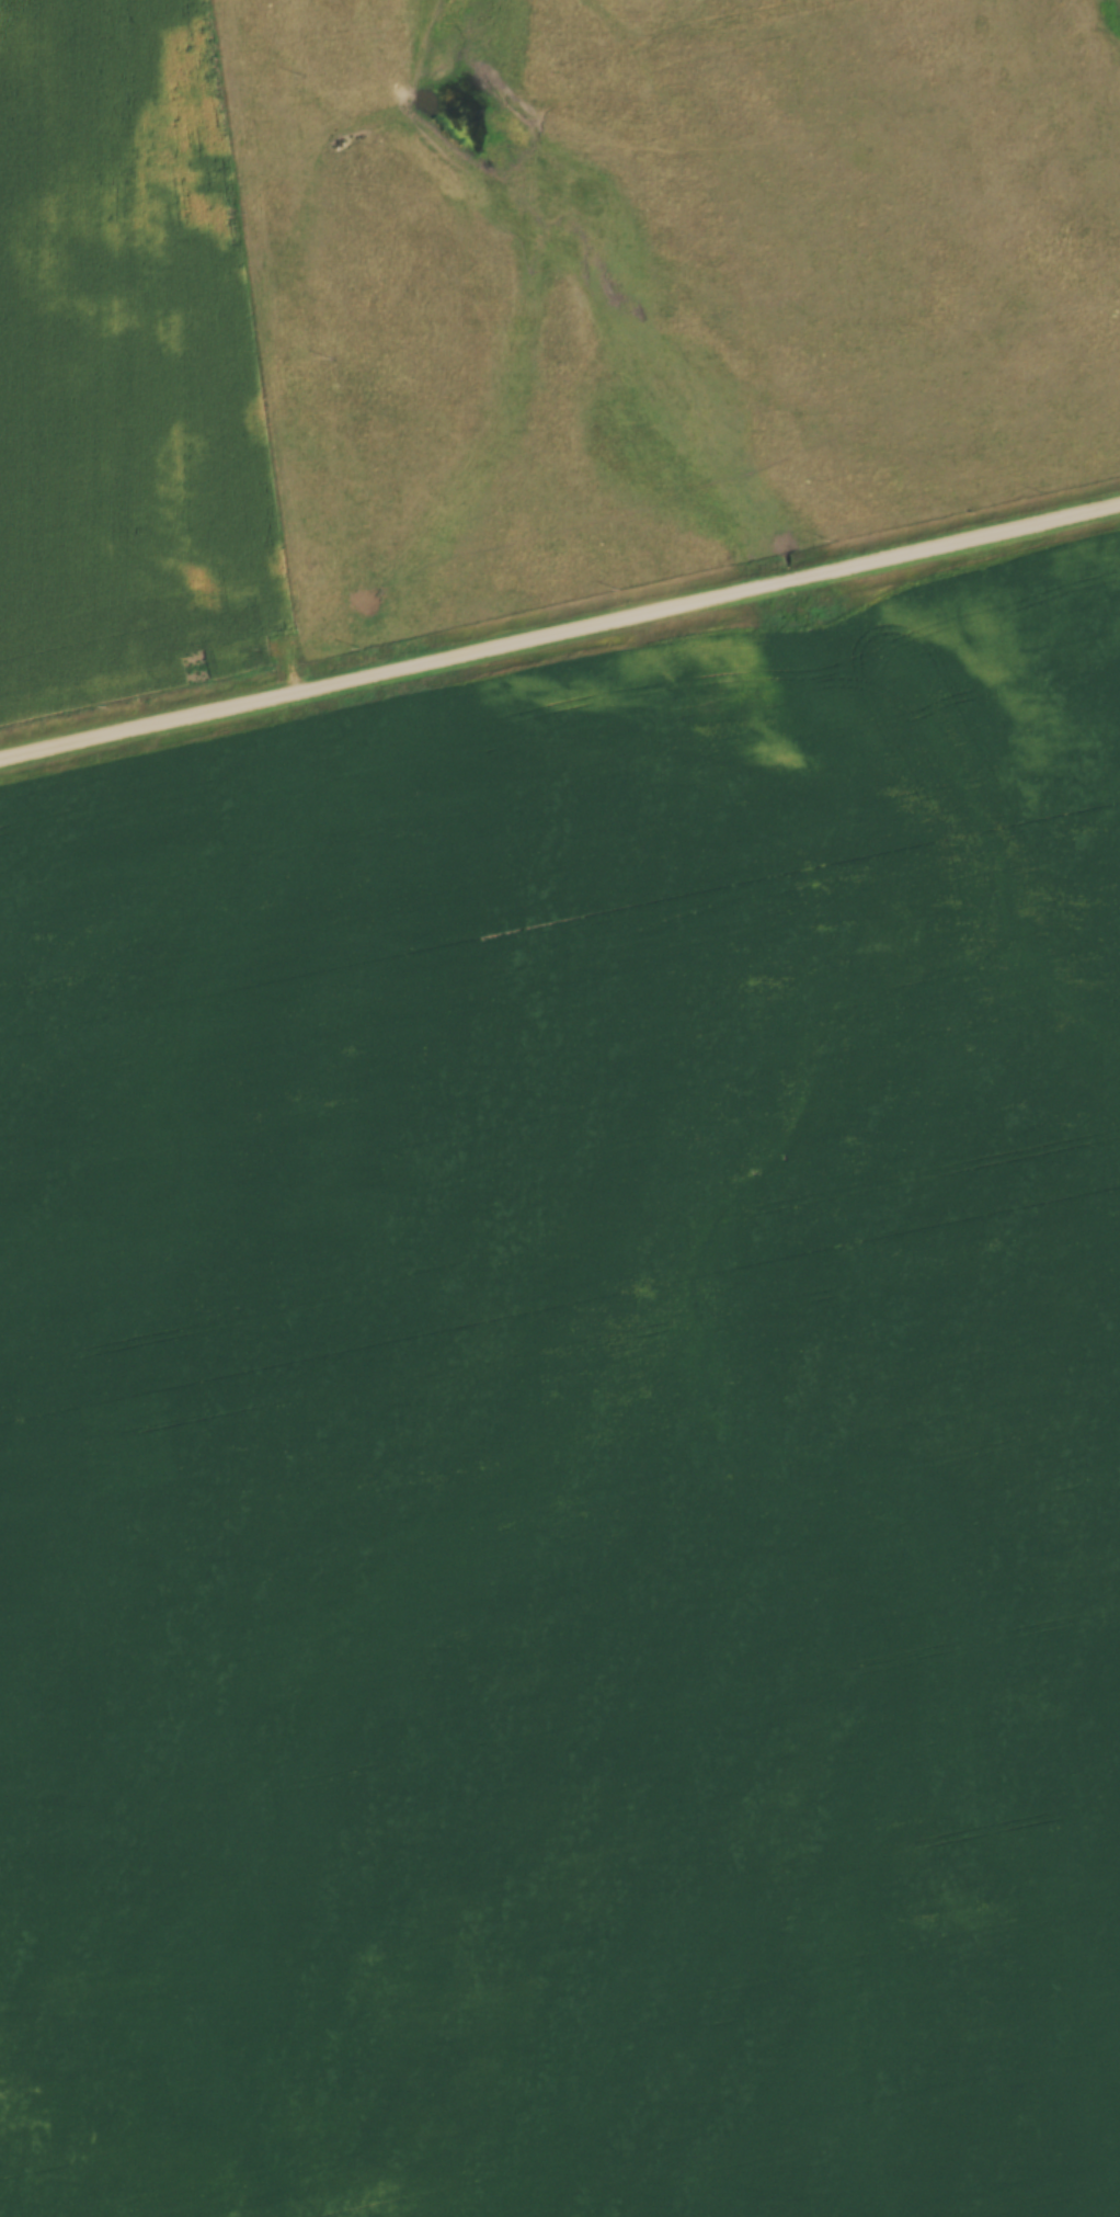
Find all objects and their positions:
road: (560, 629)

